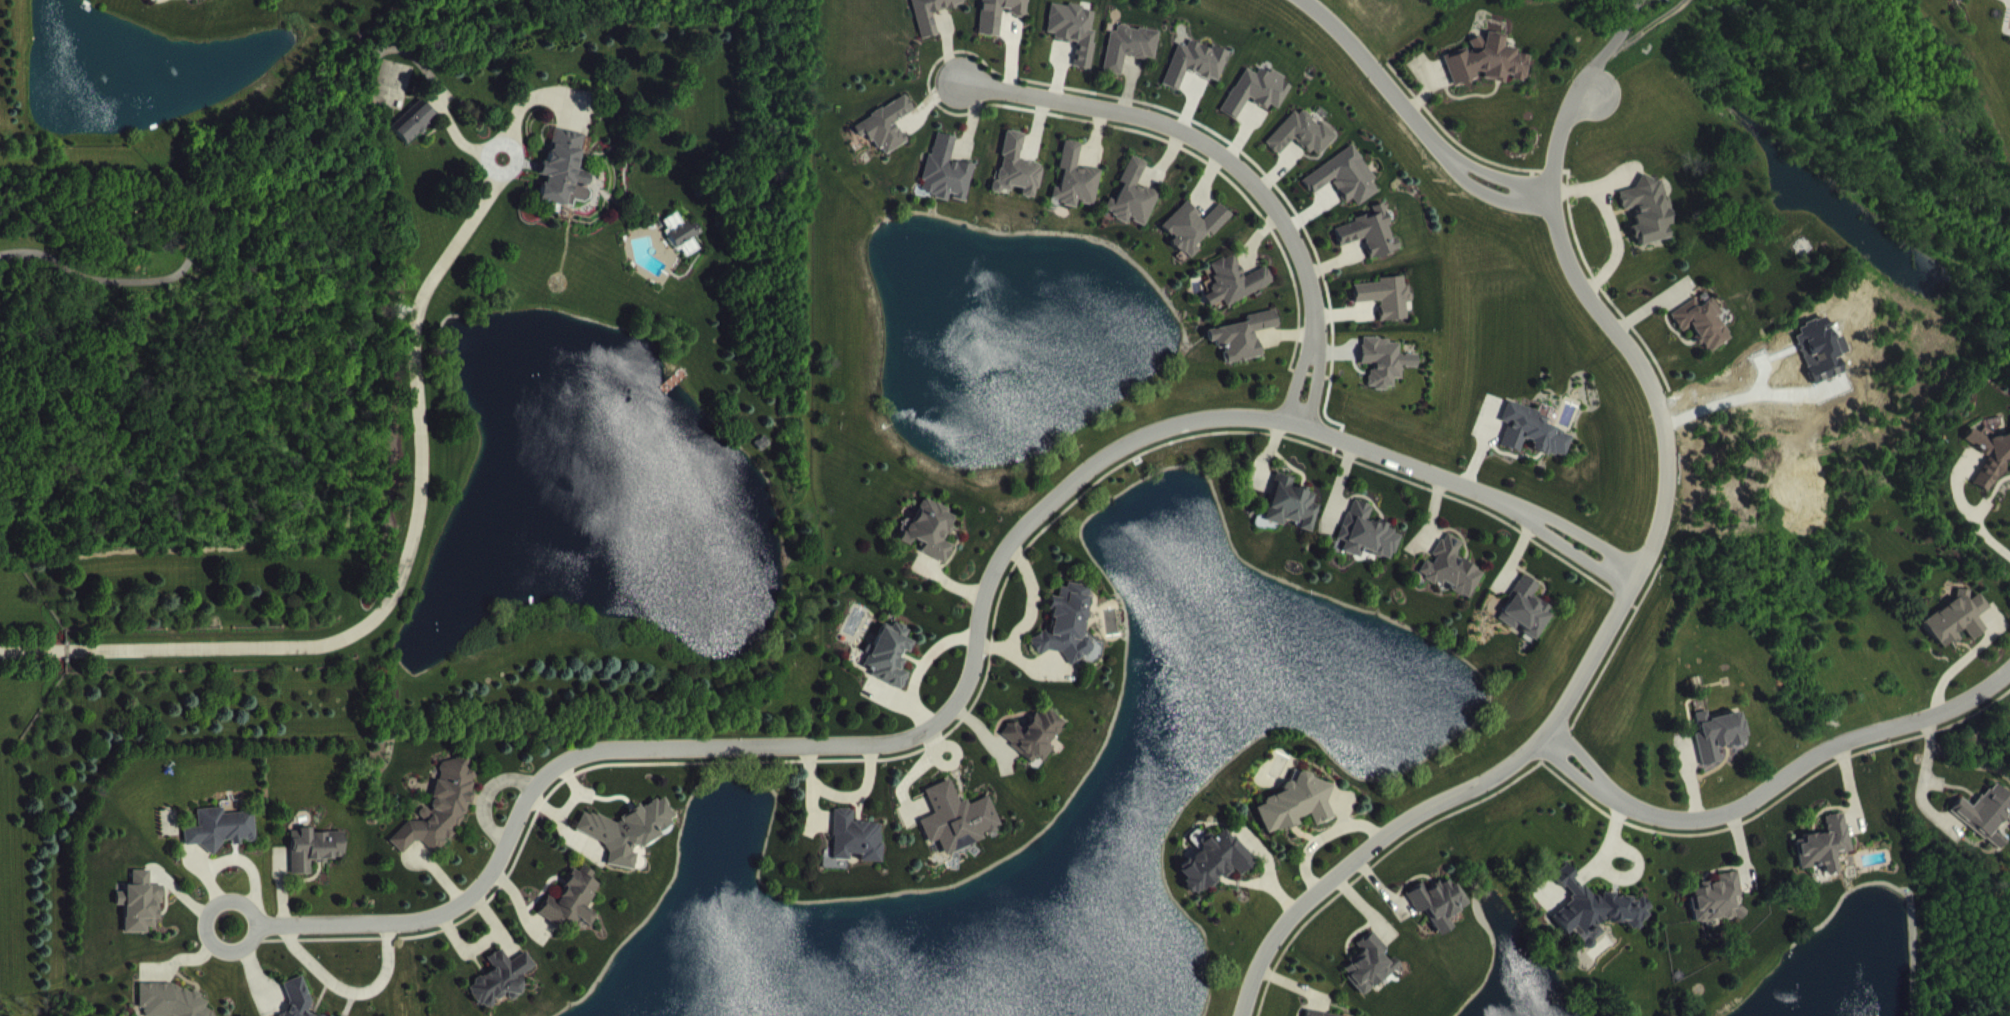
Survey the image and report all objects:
building: (2009, 0)
road: (1629, 3)
building: (1965, 6)
building: (933, 20)
building: (1000, 20)
building: (1073, 44)
road: (1604, 45)
building: (1128, 61)
road: (1380, 75)
building: (1486, 75)
building: (1194, 77)
building: (1255, 105)
building: (415, 135)
road: (1190, 136)
building: (885, 140)
road: (325, 147)
building: (1300, 148)
road: (481, 157)
road: (1498, 175)
building: (1017, 182)
building: (565, 185)
building: (946, 185)
building: (1343, 192)
building: (1075, 193)
road: (1494, 193)
building: (1132, 210)
building: (1647, 224)
building: (1193, 241)
building: (682, 244)
building: (1368, 246)
building: (1234, 295)
building: (1384, 311)
building: (1703, 335)
building: (1242, 350)
building: (1385, 375)
road: (1296, 376)
road: (1314, 379)
road: (1751, 393)
building: (1532, 445)
building: (1990, 469)
road: (1966, 511)
building: (1291, 518)
road: (1586, 537)
building: (1367, 547)
road: (1577, 553)
road: (401, 567)
building: (1451, 582)
road: (1618, 608)
building: (1526, 624)
building: (1958, 632)
building: (1067, 639)
building: (890, 669)
road: (940, 717)
building: (1718, 748)
building: (1034, 749)
road: (1581, 754)
road: (1807, 759)
road: (1569, 768)
building: (1297, 817)
building: (442, 822)
building: (1986, 828)
building: (956, 833)
building: (220, 843)
building: (629, 845)
building: (856, 852)
building: (1825, 859)
building: (315, 863)
building: (1215, 876)
road: (207, 911)
building: (1718, 913)
building: (573, 915)
building: (1438, 917)
building: (141, 918)
building: (1595, 923)
building: (1368, 978)
road: (349, 988)
building: (502, 992)
building: (297, 1004)

